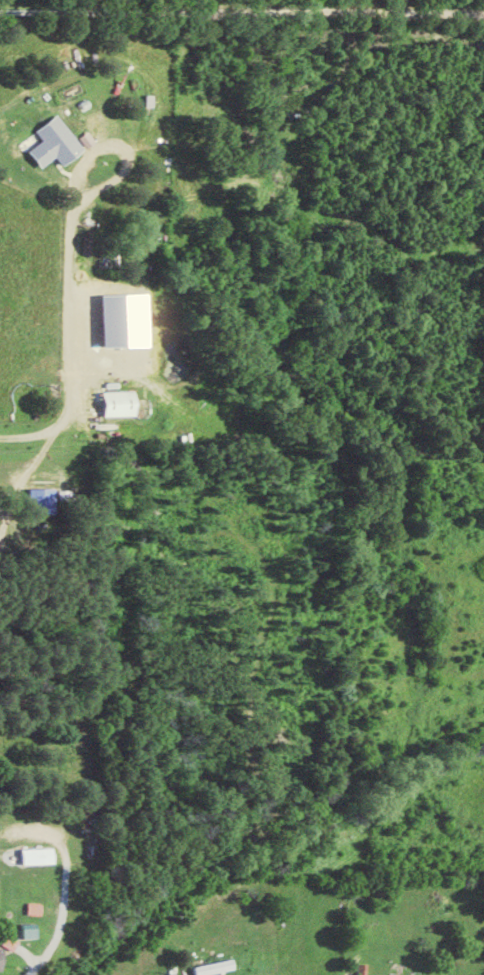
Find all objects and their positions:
road: (242, 9)
building: (61, 143)
building: (130, 320)
building: (126, 403)
building: (102, 415)
road: (41, 419)
building: (49, 499)
building: (42, 855)
road: (61, 923)
building: (32, 930)
building: (13, 942)
building: (2, 957)
building: (219, 966)

